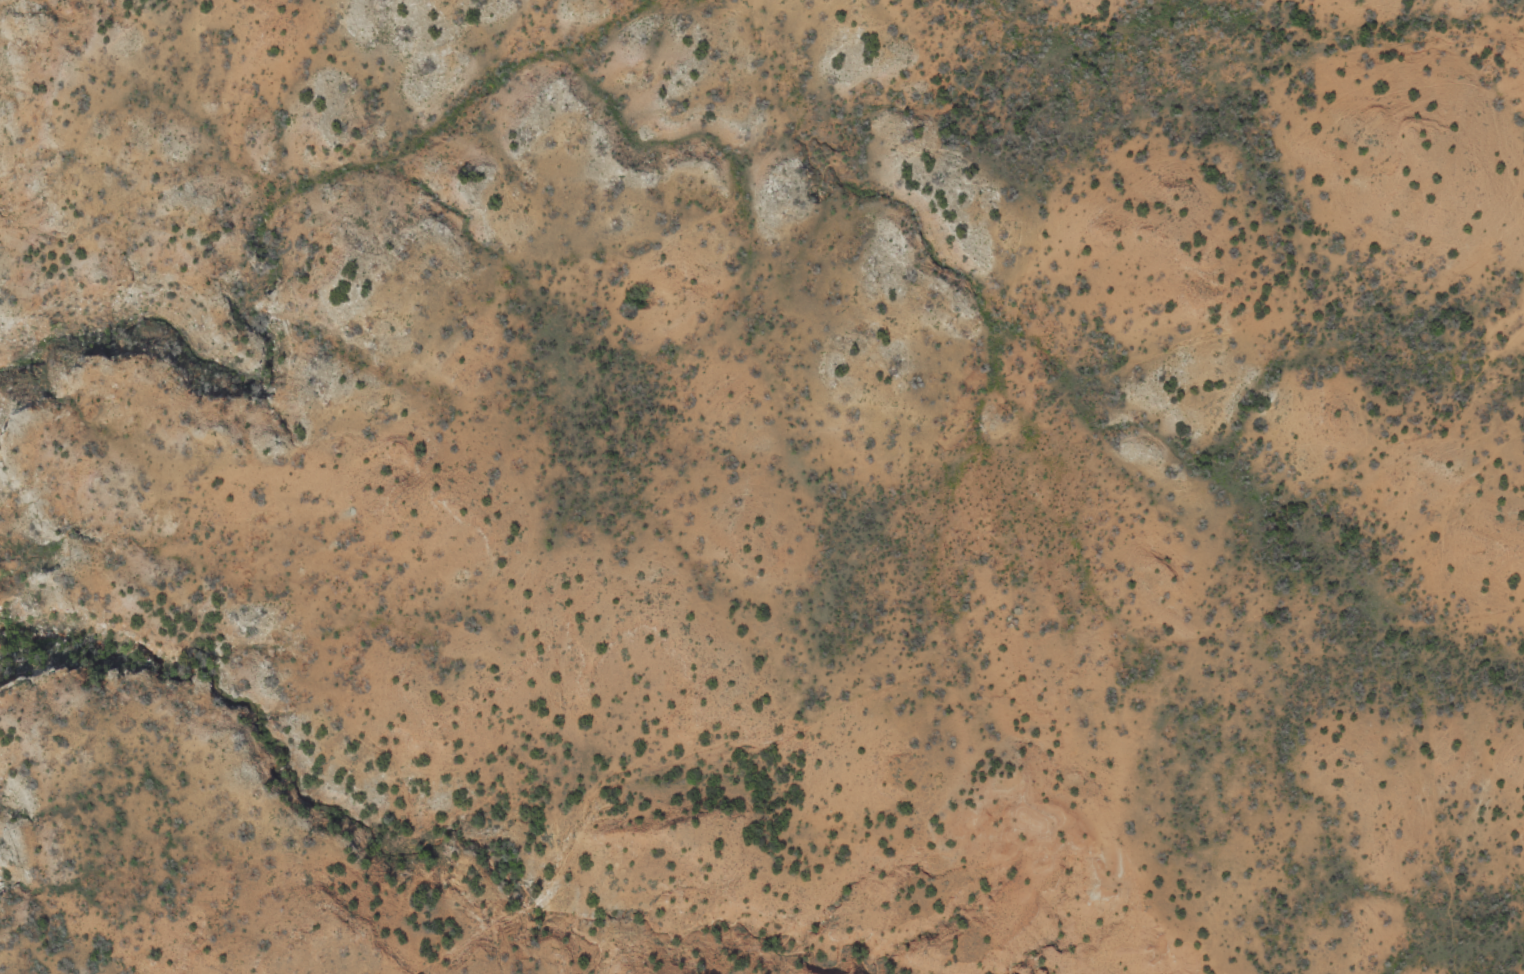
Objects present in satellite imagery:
road: (1514, 7)
road: (1517, 947)

